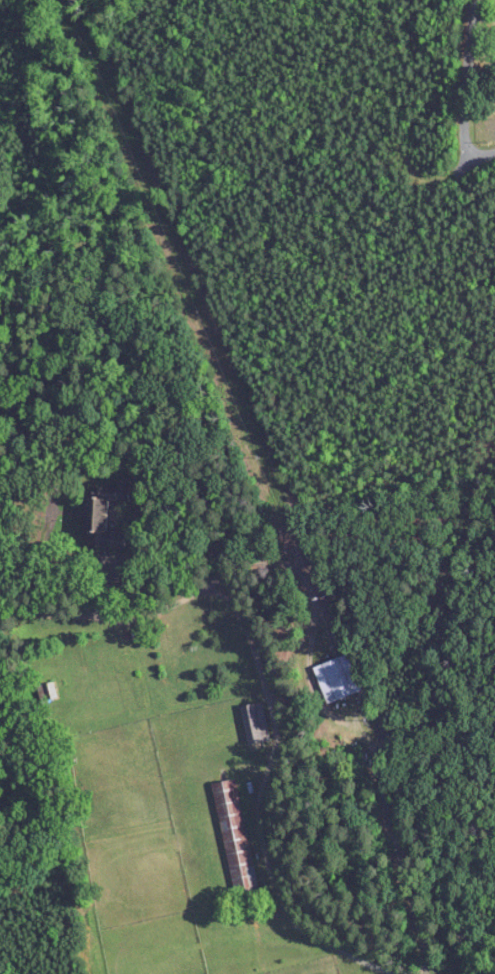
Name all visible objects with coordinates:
road: (467, 95)
building: (105, 517)
building: (337, 679)
road: (265, 689)
building: (255, 723)
building: (236, 839)

